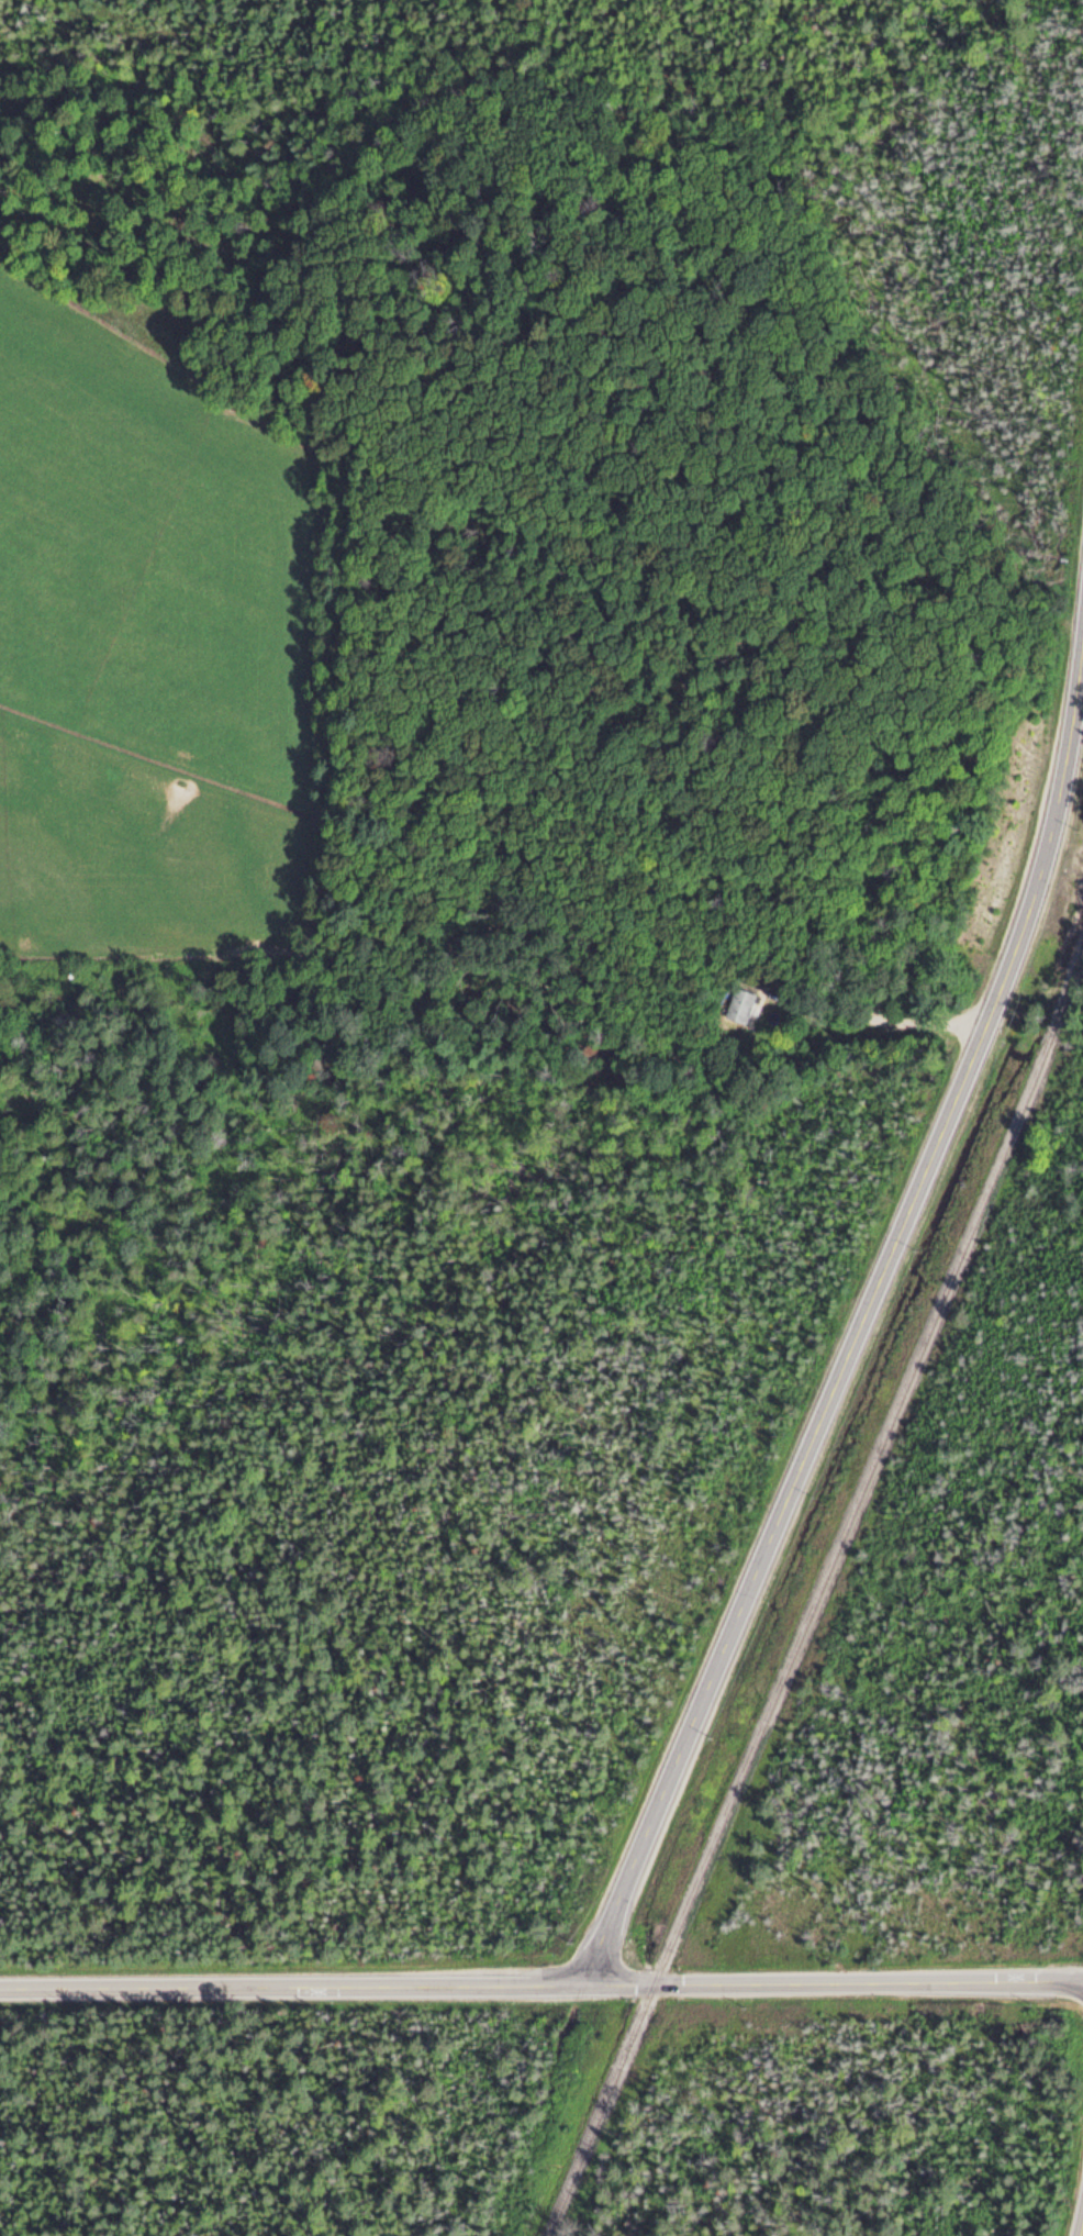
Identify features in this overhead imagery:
building: (741, 1004)
road: (857, 1326)
railway: (870, 1464)
road: (833, 1980)
road: (292, 1984)
railway: (600, 2109)
road: (1080, 2225)

